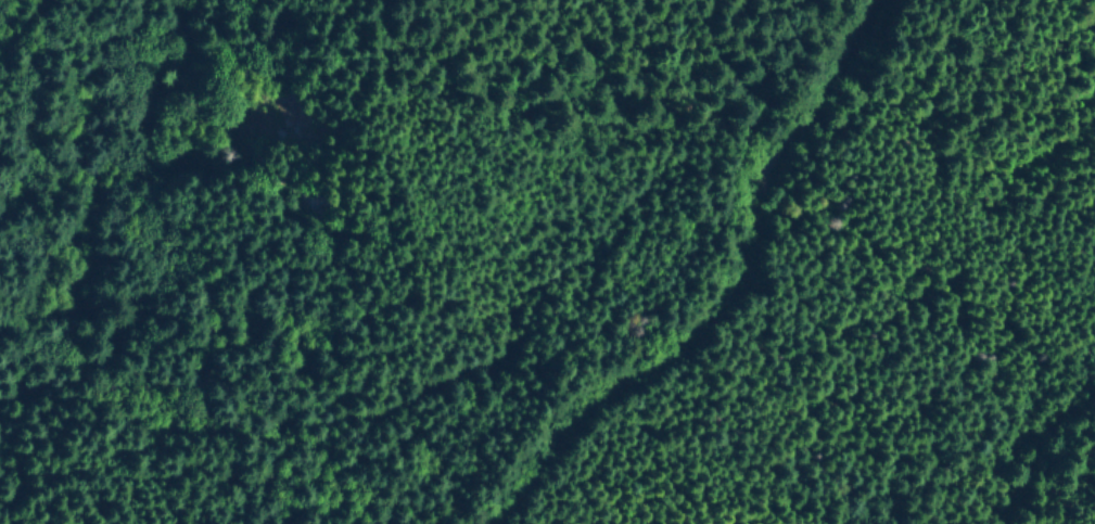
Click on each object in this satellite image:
road: (724, 285)

